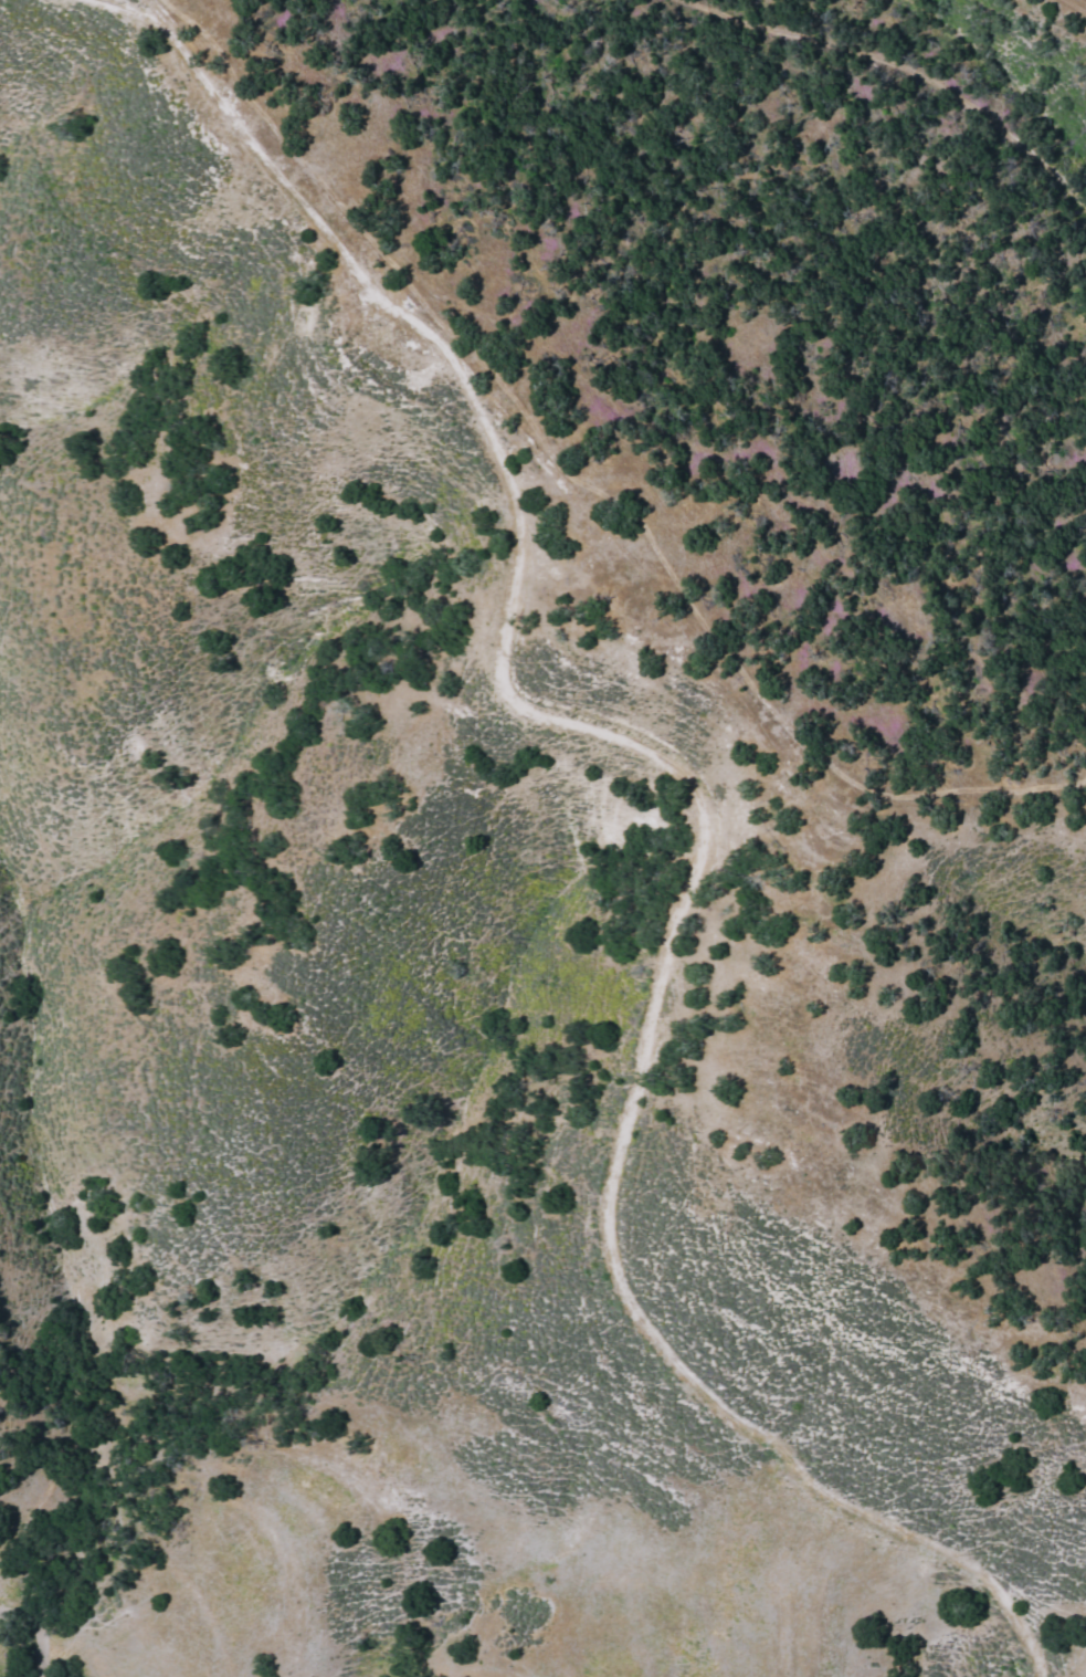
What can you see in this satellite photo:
road: (694, 793)

